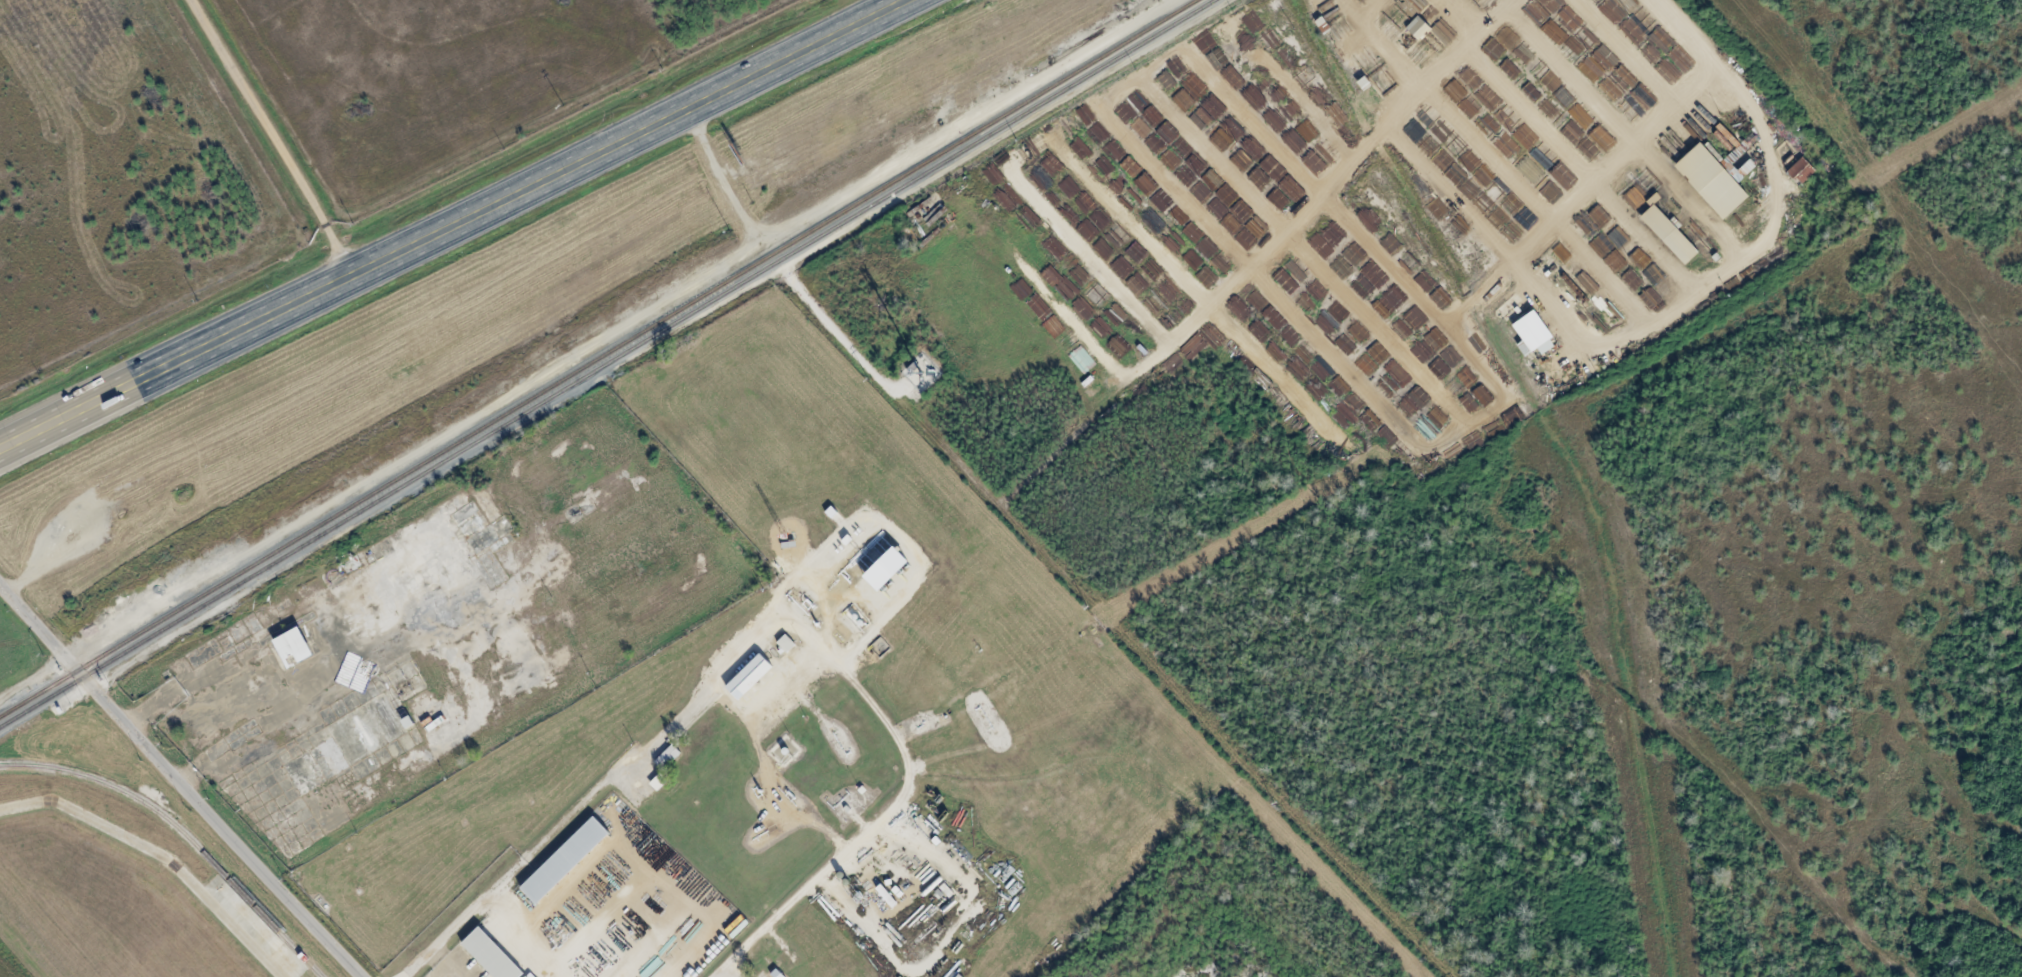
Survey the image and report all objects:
building: (1416, 28)
road: (1695, 44)
building: (1366, 62)
building: (1054, 132)
road: (270, 137)
building: (1799, 171)
building: (1708, 181)
road: (731, 184)
road: (453, 224)
building: (1666, 235)
road: (832, 323)
building: (1530, 335)
building: (1080, 359)
railway: (602, 361)
building: (878, 567)
building: (783, 643)
building: (299, 646)
building: (744, 677)
building: (664, 757)
road: (182, 779)
road: (159, 857)
building: (560, 860)
road: (483, 883)
road: (767, 911)
building: (486, 955)
building: (527, 975)

